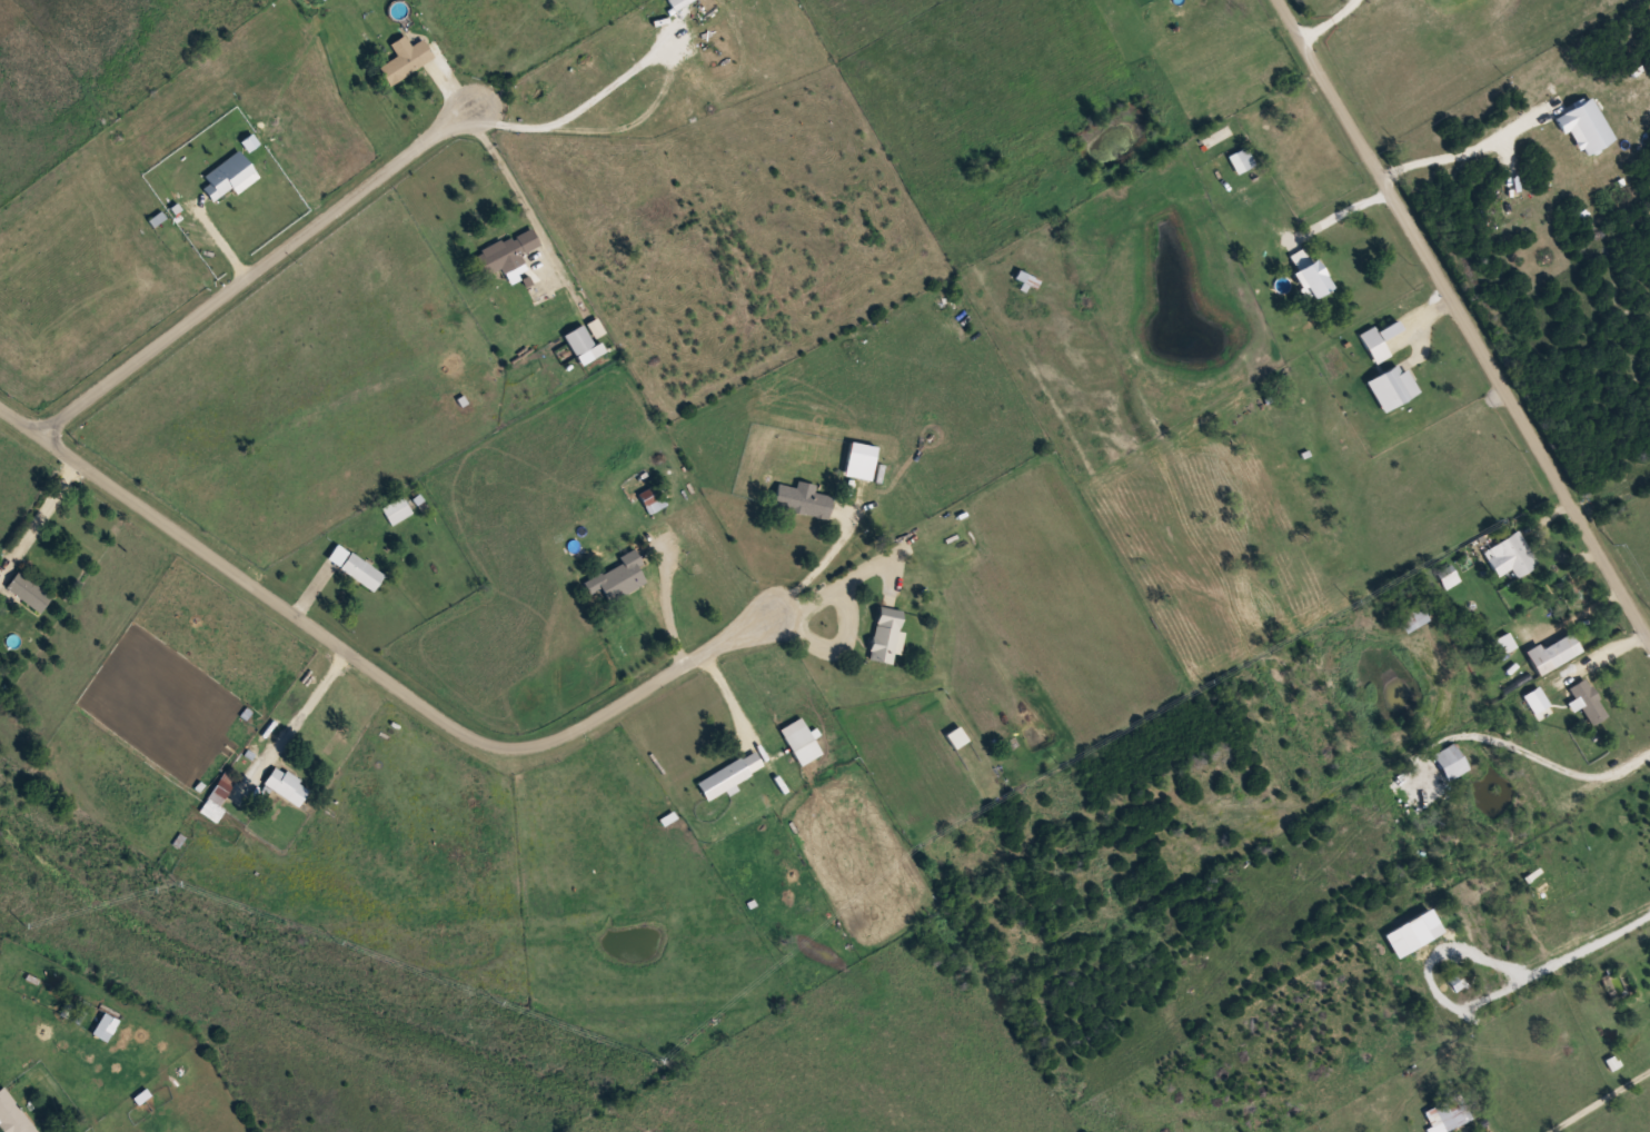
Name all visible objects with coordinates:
building: (402, 58)
building: (1219, 138)
building: (1242, 160)
building: (226, 176)
building: (501, 252)
road: (254, 270)
building: (1309, 274)
building: (1026, 278)
road: (1464, 319)
building: (580, 344)
building: (1374, 346)
building: (1391, 386)
building: (650, 499)
building: (801, 499)
building: (395, 510)
building: (1511, 555)
building: (354, 567)
building: (1448, 576)
building: (622, 583)
building: (26, 590)
building: (1414, 612)
building: (884, 636)
building: (1552, 653)
road: (370, 669)
building: (1534, 699)
building: (1587, 701)
building: (954, 736)
building: (798, 741)
building: (1449, 762)
building: (728, 775)
building: (285, 785)
building: (215, 802)
building: (80, 1012)
building: (99, 1030)
building: (1448, 1113)
building: (12, 1115)

